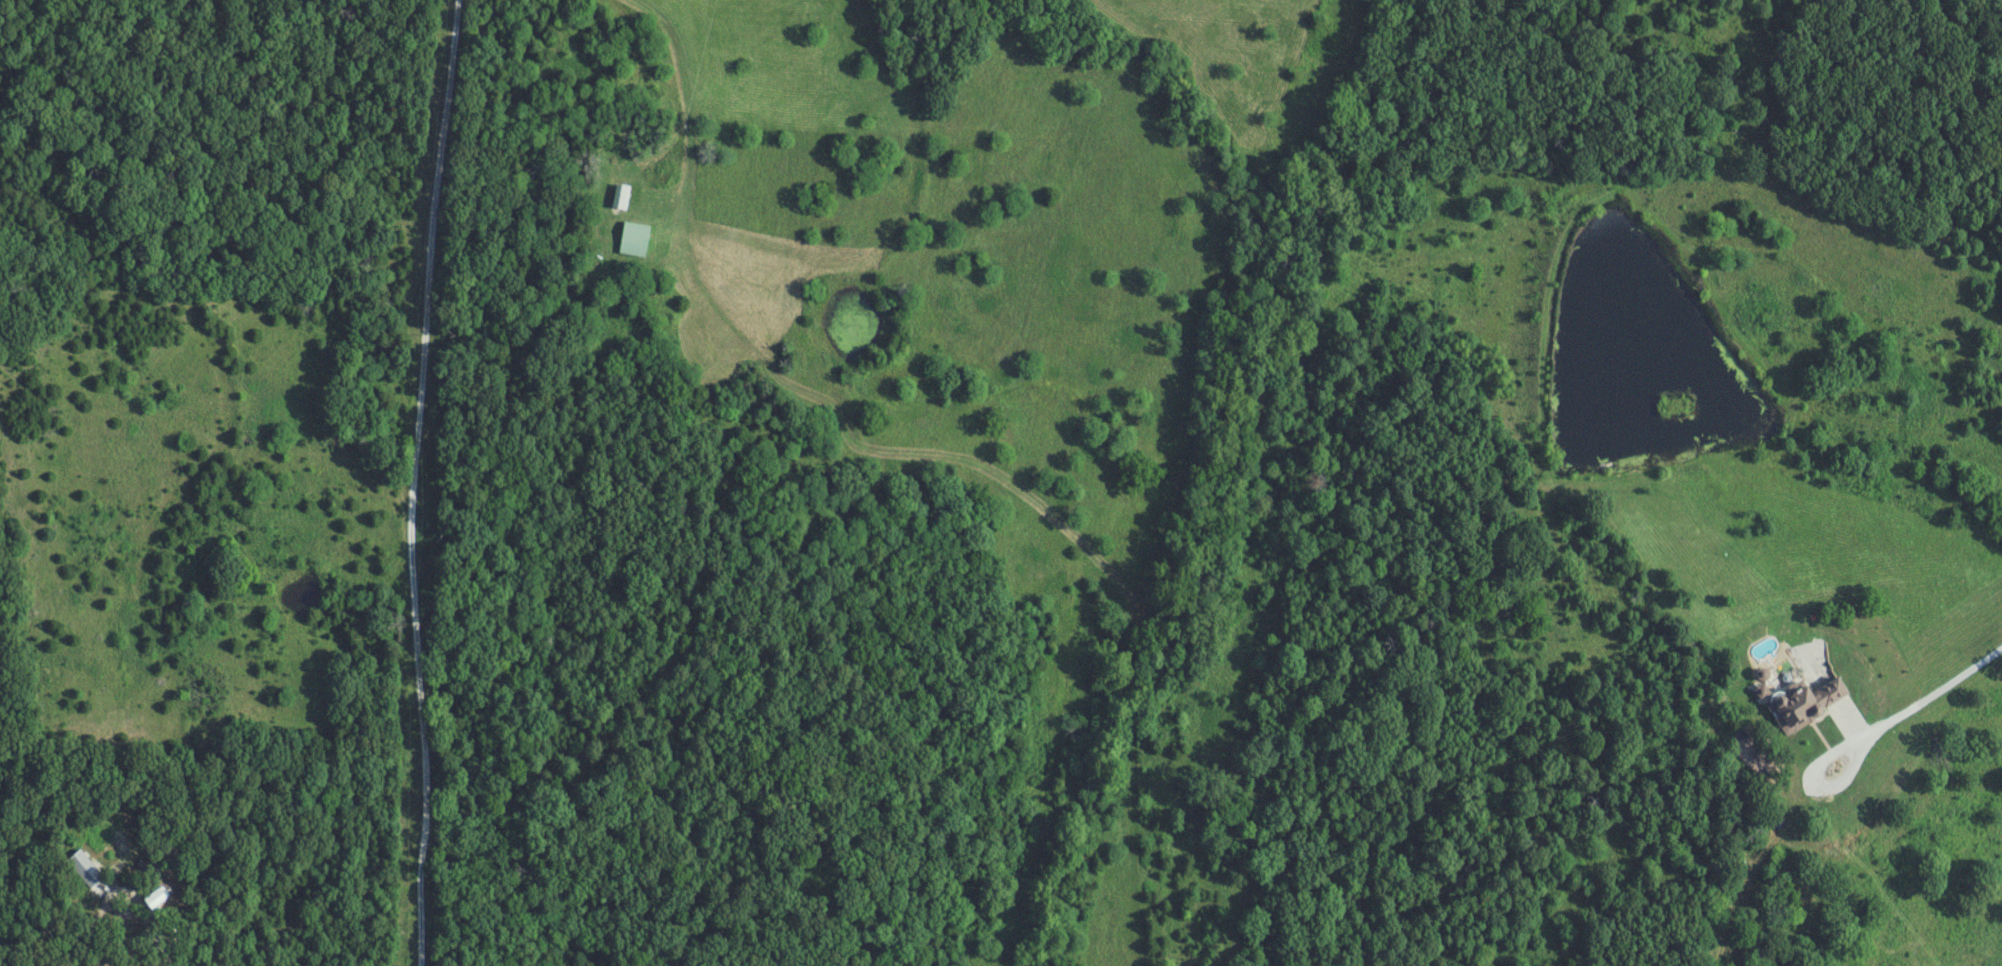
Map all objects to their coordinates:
building: (634, 238)
road: (413, 482)
building: (1805, 702)
road: (1919, 703)
road: (148, 927)

